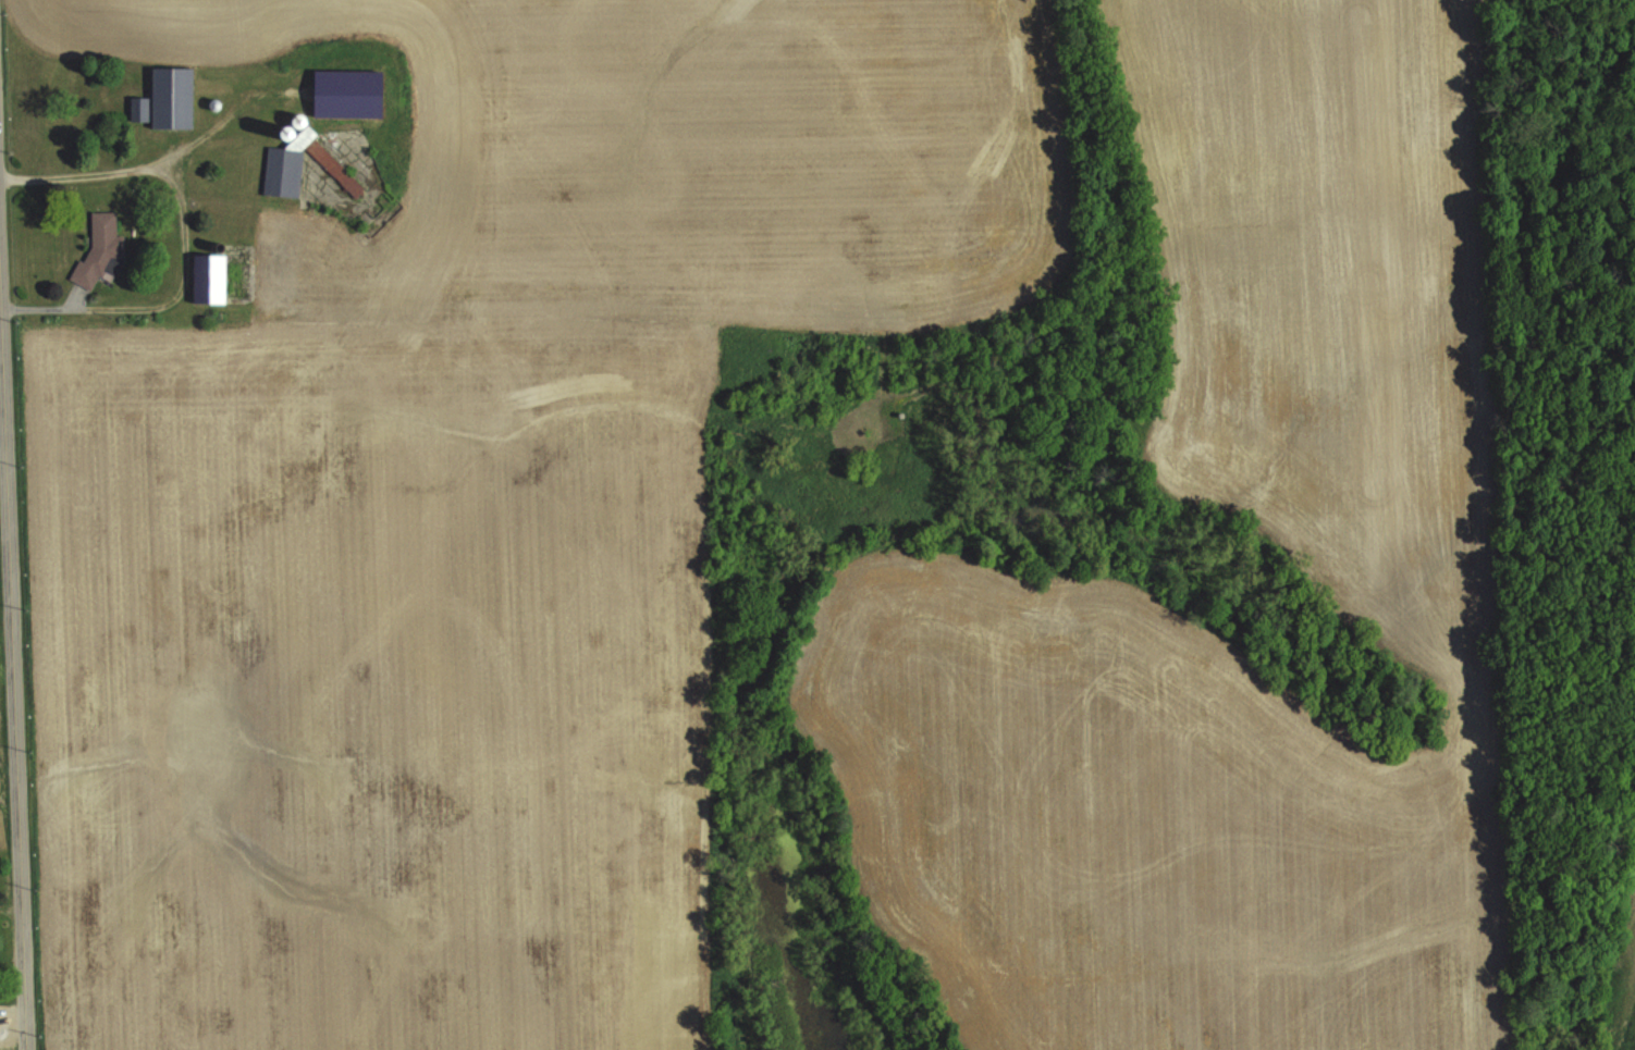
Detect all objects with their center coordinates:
building: (172, 98)
building: (302, 124)
road: (136, 168)
building: (353, 186)
building: (99, 250)
building: (211, 279)
road: (164, 304)
road: (15, 768)

